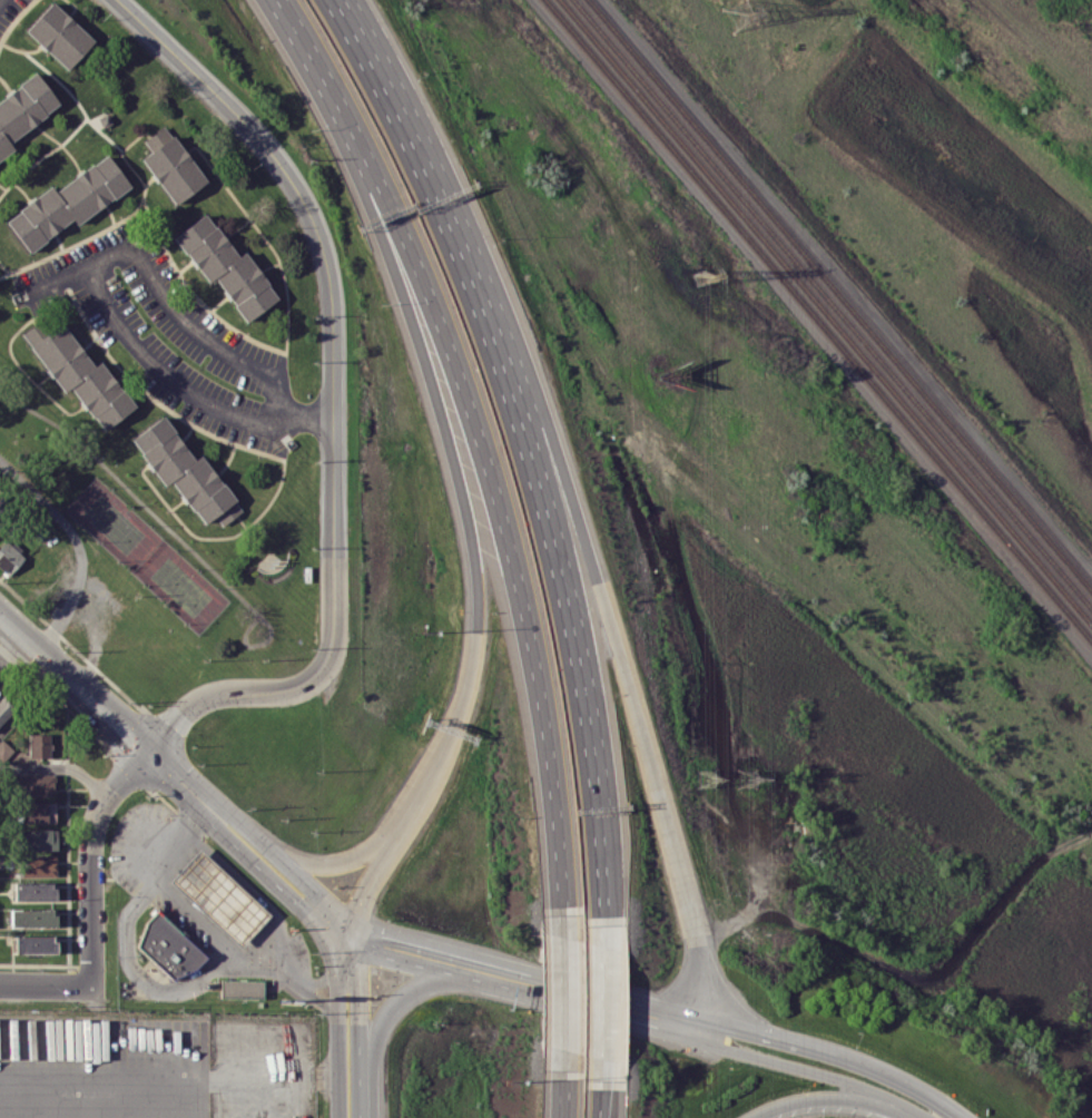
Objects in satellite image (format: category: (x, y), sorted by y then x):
road: (295, 29)
building: (59, 36)
road: (388, 71)
building: (23, 109)
building: (173, 169)
building: (67, 203)
road: (109, 258)
building: (226, 267)
road: (56, 278)
railway: (842, 294)
railway: (833, 303)
railway: (824, 312)
railway: (819, 318)
road: (201, 332)
road: (164, 373)
building: (82, 376)
road: (430, 393)
road: (340, 396)
road: (312, 412)
road: (537, 462)
building: (186, 472)
road: (494, 483)
building: (0, 527)
road: (80, 543)
building: (9, 559)
park: (170, 568)
road: (602, 577)
road: (18, 630)
road: (62, 670)
building: (4, 710)
road: (119, 723)
traffic signals: (121, 725)
traffic signals: (174, 726)
building: (39, 745)
road: (59, 769)
traffic signals: (127, 777)
traffic signals: (180, 778)
building: (38, 785)
road: (424, 787)
building: (39, 812)
building: (39, 840)
road: (248, 841)
road: (91, 859)
road: (324, 864)
building: (39, 865)
road: (601, 870)
road: (372, 882)
building: (35, 892)
road: (256, 893)
traffic signals: (304, 895)
building: (219, 898)
traffic signals: (362, 903)
road: (198, 916)
building: (32, 918)
building: (35, 944)
traffic signals: (380, 944)
building: (168, 945)
road: (416, 953)
road: (130, 963)
traffic signals: (360, 970)
road: (47, 985)
road: (298, 987)
building: (242, 988)
road: (407, 989)
road: (360, 991)
road: (565, 996)
road: (590, 1000)
road: (600, 1013)
road: (338, 1021)
road: (835, 1051)
road: (810, 1070)
road: (169, 1081)
road: (565, 1085)
road: (361, 1087)
road: (598, 1098)
road: (834, 1099)

